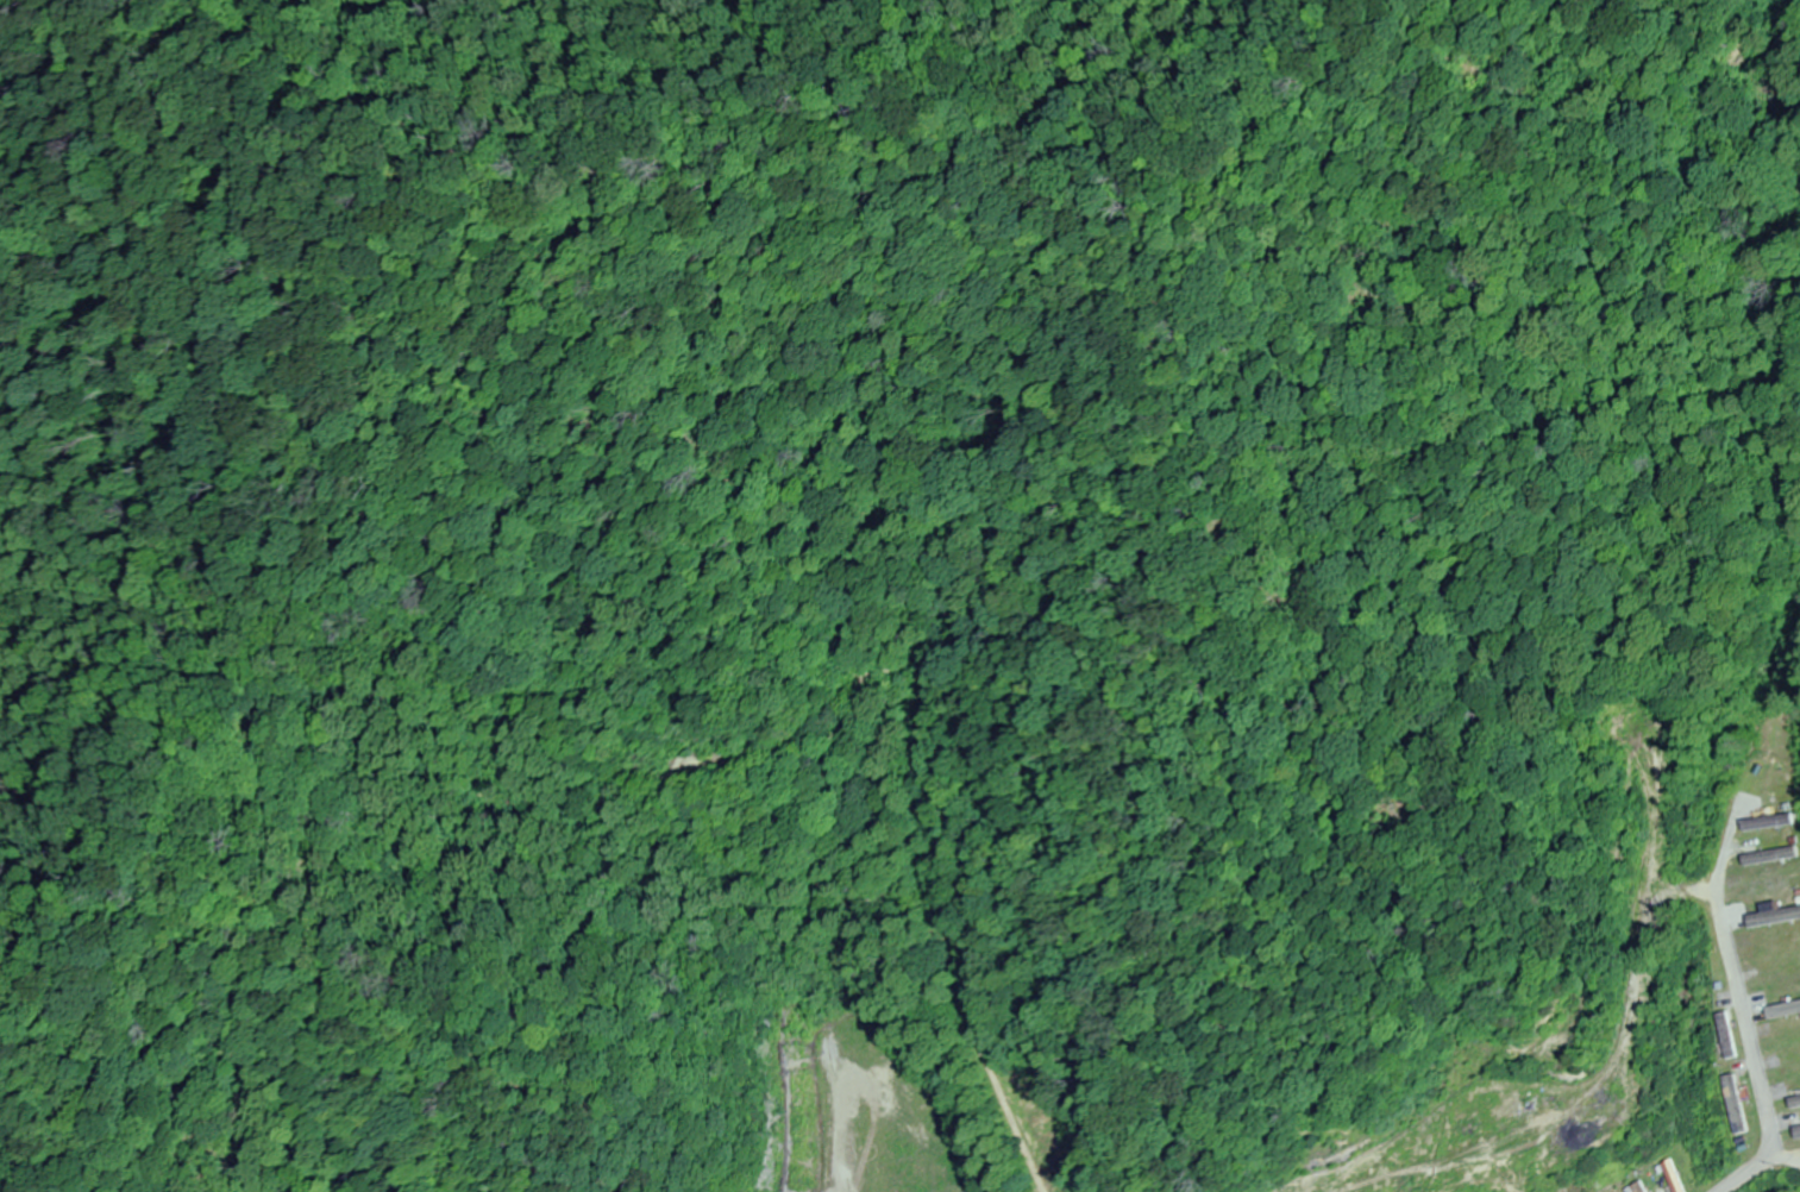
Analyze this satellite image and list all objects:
building: (1764, 822)
building: (1770, 858)
building: (1774, 917)
road: (1743, 1025)
building: (1727, 1035)
building: (1796, 1131)
building: (1669, 1175)
building: (1631, 1187)

